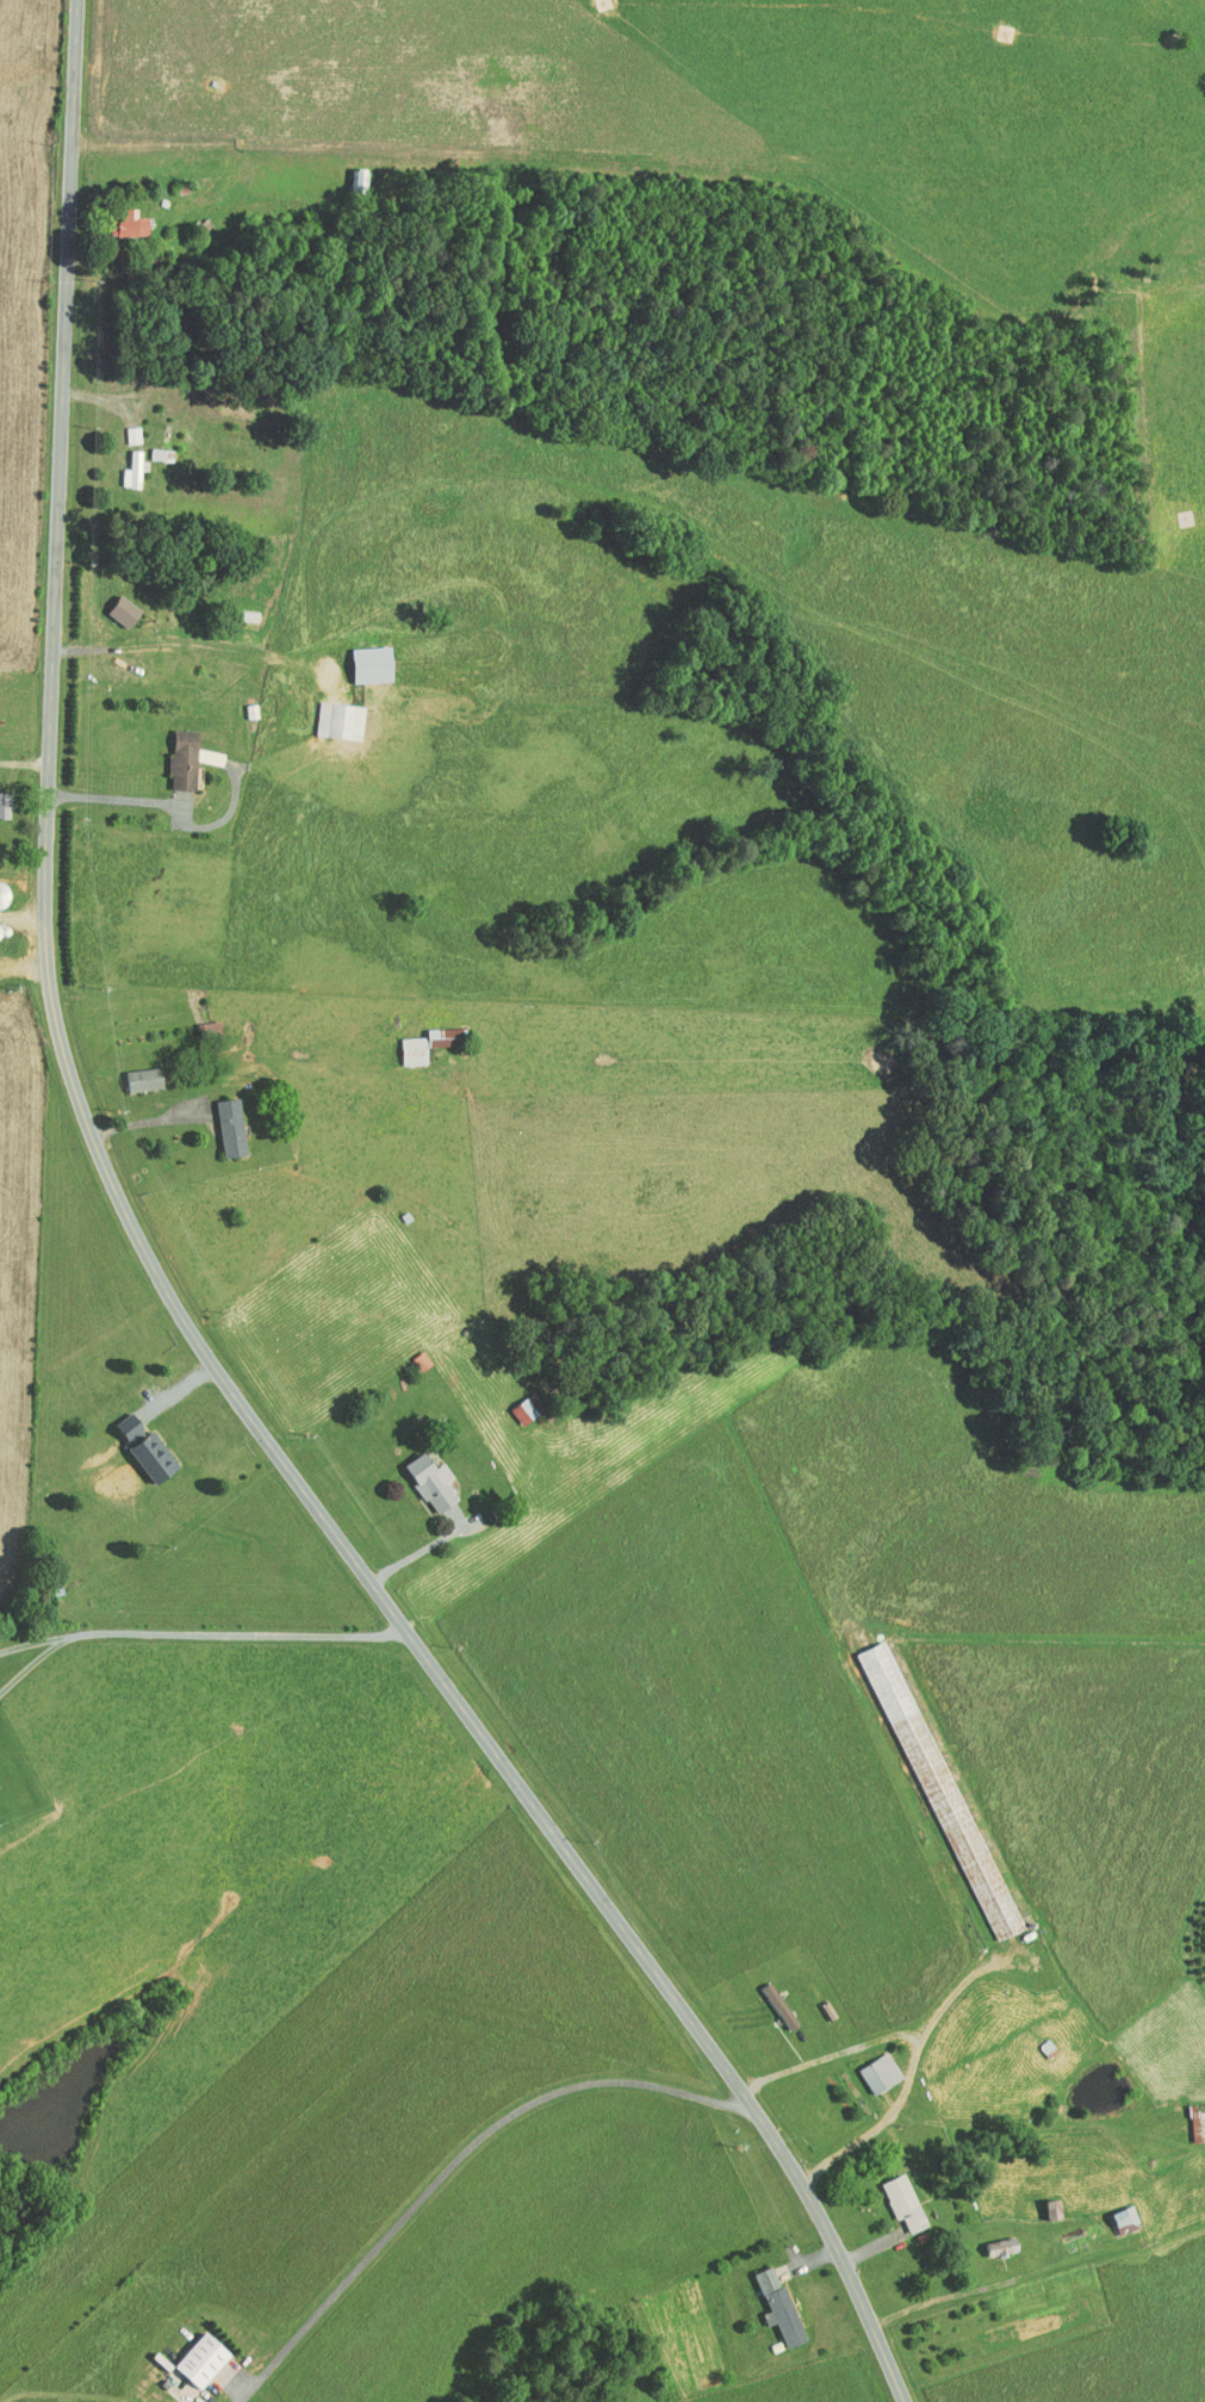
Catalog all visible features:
building: (119, 216)
building: (120, 427)
building: (149, 446)
building: (120, 463)
building: (112, 603)
building: (360, 656)
building: (328, 712)
building: (172, 751)
road: (116, 797)
building: (197, 1022)
building: (431, 1029)
building: (402, 1043)
building: (132, 1070)
building: (218, 1119)
road: (175, 1297)
building: (410, 1353)
building: (513, 1403)
building: (132, 1439)
building: (420, 1475)
road: (198, 1626)
road: (24, 1650)
building: (868, 2066)
building: (1191, 2117)
road: (453, 2159)
building: (892, 2195)
building: (1042, 2203)
building: (1113, 2212)
building: (990, 2240)
building: (766, 2299)
building: (190, 2351)

